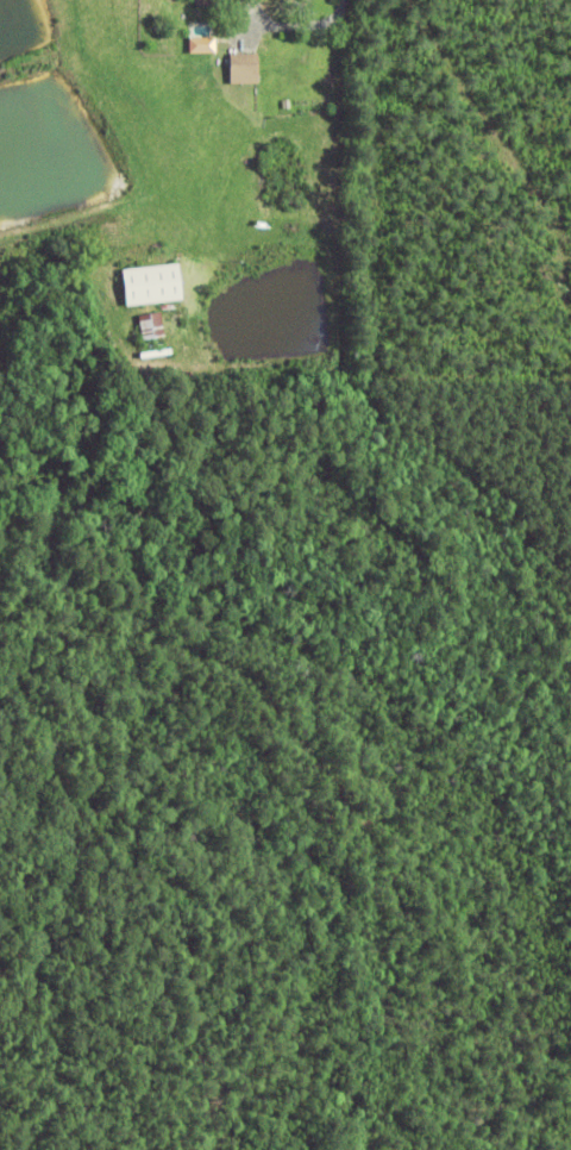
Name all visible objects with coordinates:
building: (203, 4)
building: (227, 5)
building: (197, 44)
building: (245, 70)
building: (153, 287)
building: (152, 329)

